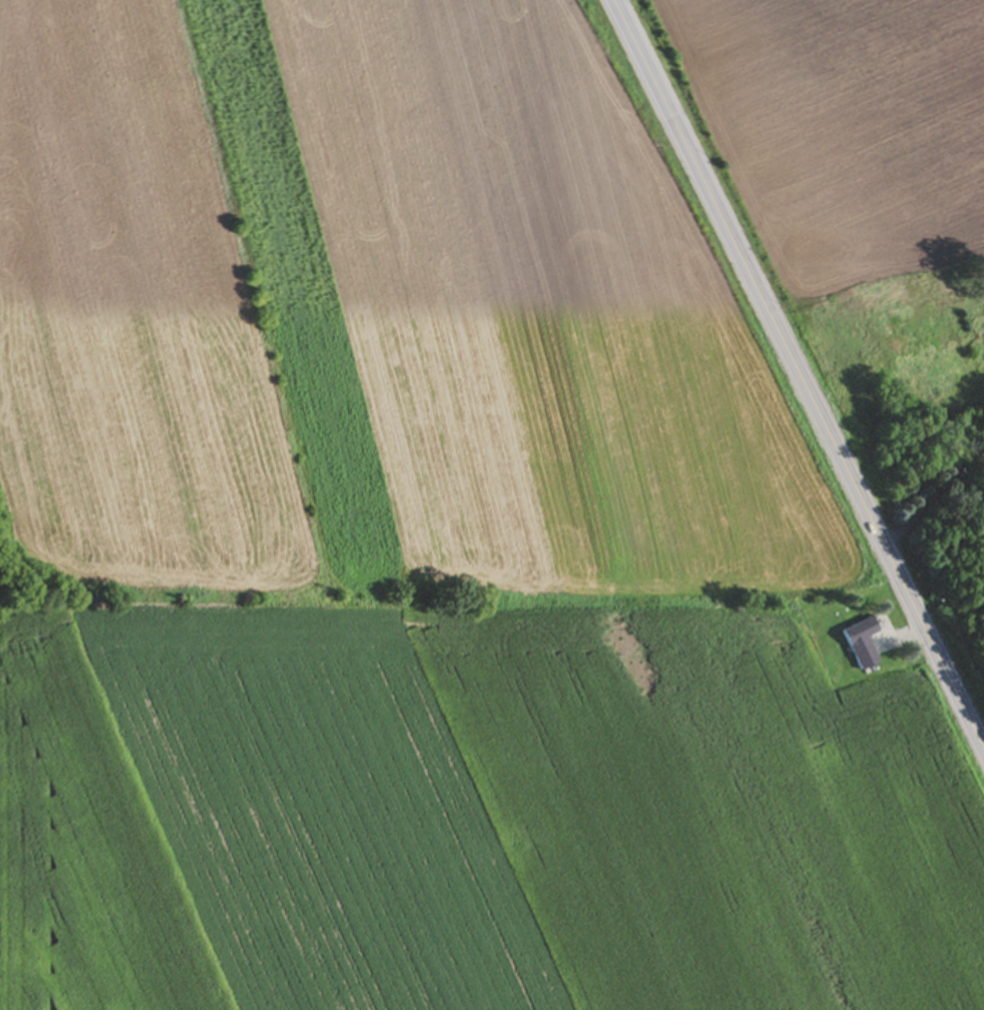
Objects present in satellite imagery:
road: (799, 382)
road: (932, 508)
building: (863, 645)

